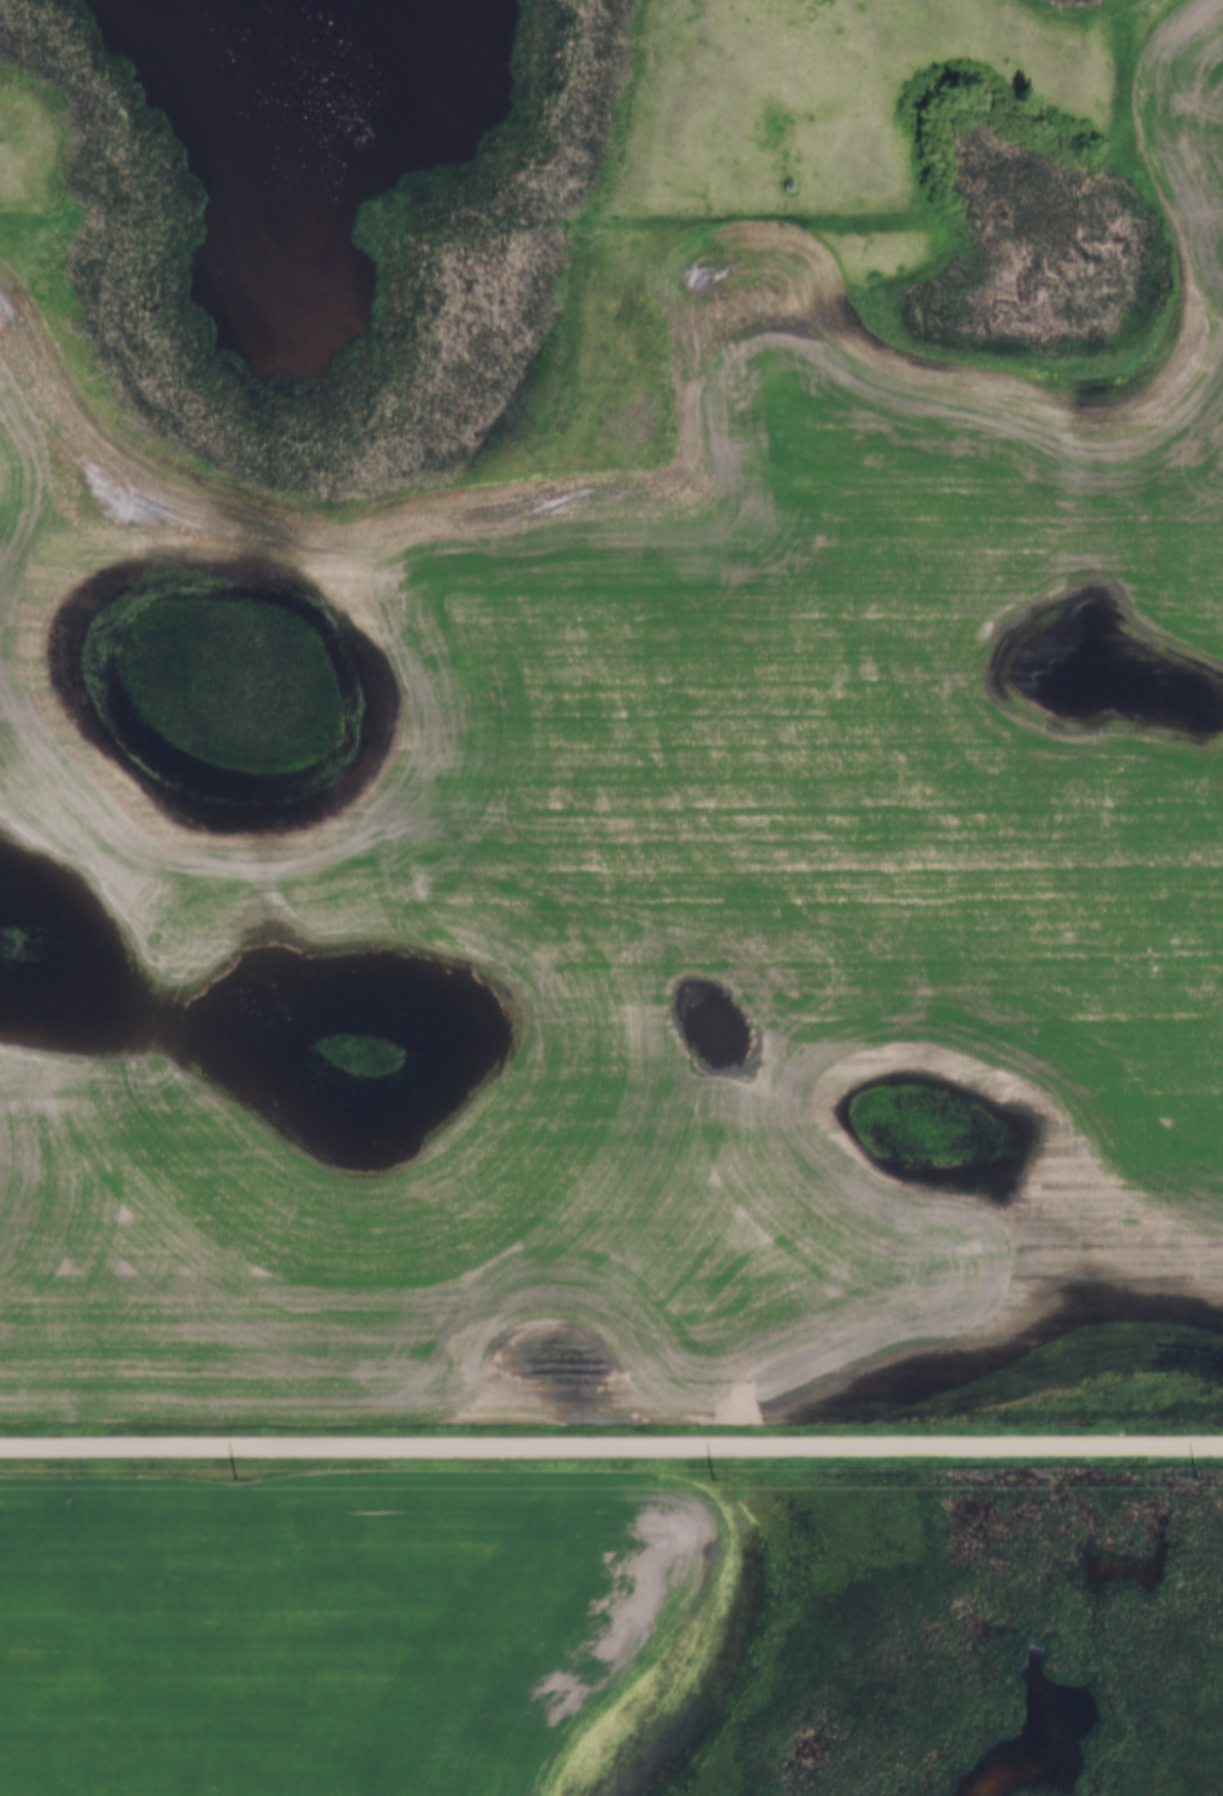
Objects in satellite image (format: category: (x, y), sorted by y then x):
road: (610, 1442)
power tower: (234, 1480)
power tower: (1195, 1484)
power tower: (710, 1485)

